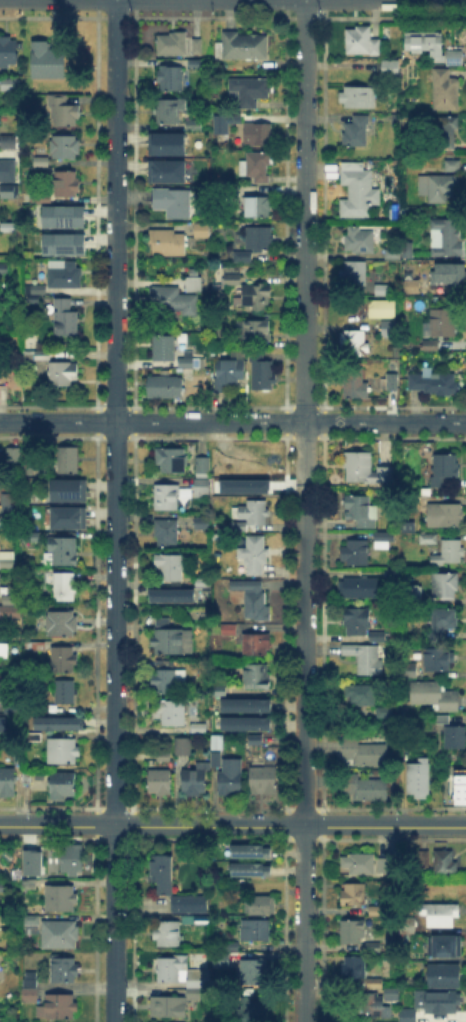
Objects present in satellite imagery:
building: (362, 41)
building: (430, 44)
building: (172, 45)
building: (244, 47)
building: (198, 48)
building: (8, 51)
building: (455, 60)
building: (48, 61)
building: (196, 63)
building: (390, 69)
building: (171, 80)
building: (9, 83)
building: (446, 91)
building: (249, 93)
building: (358, 98)
building: (64, 112)
building: (168, 113)
building: (218, 123)
building: (194, 126)
building: (255, 132)
building: (444, 132)
building: (355, 133)
building: (8, 142)
building: (166, 142)
building: (63, 147)
building: (41, 162)
building: (449, 164)
building: (257, 167)
building: (7, 170)
building: (164, 170)
building: (66, 184)
building: (441, 188)
building: (7, 191)
building: (358, 192)
building: (231, 193)
building: (174, 203)
building: (259, 208)
building: (61, 215)
building: (202, 230)
building: (448, 238)
building: (360, 241)
building: (61, 243)
building: (168, 243)
building: (255, 244)
building: (391, 254)
building: (4, 270)
building: (65, 274)
building: (353, 274)
building: (234, 277)
building: (449, 277)
building: (412, 287)
building: (34, 288)
building: (383, 291)
building: (257, 294)
building: (178, 297)
building: (33, 298)
building: (66, 320)
building: (386, 320)
building: (443, 325)
building: (255, 330)
building: (353, 343)
building: (431, 347)
building: (164, 349)
building: (43, 357)
building: (189, 364)
building: (260, 372)
building: (61, 373)
building: (230, 373)
building: (3, 379)
building: (390, 381)
building: (435, 383)
building: (165, 388)
building: (352, 389)
road: (232, 423)
building: (15, 455)
building: (69, 461)
building: (172, 461)
building: (203, 465)
building: (222, 467)
building: (445, 468)
building: (365, 469)
building: (259, 470)
building: (202, 485)
building: (70, 487)
building: (166, 496)
building: (358, 507)
road: (304, 510)
road: (114, 511)
building: (8, 512)
building: (445, 515)
building: (250, 516)
building: (69, 517)
building: (201, 523)
building: (167, 534)
building: (33, 536)
building: (381, 540)
building: (428, 540)
building: (449, 552)
building: (64, 553)
building: (354, 554)
building: (7, 555)
building: (254, 555)
building: (0, 564)
building: (7, 564)
building: (170, 568)
building: (393, 574)
building: (202, 583)
building: (0, 586)
building: (445, 586)
building: (65, 587)
building: (359, 589)
building: (169, 594)
building: (251, 599)
building: (10, 613)
building: (444, 621)
building: (163, 622)
building: (357, 622)
building: (62, 624)
building: (229, 630)
building: (377, 636)
building: (174, 643)
building: (256, 645)
building: (36, 647)
building: (3, 652)
building: (365, 657)
building: (437, 660)
building: (63, 661)
building: (411, 671)
building: (257, 677)
building: (167, 682)
building: (65, 693)
building: (363, 695)
building: (434, 697)
building: (247, 704)
building: (44, 708)
building: (12, 710)
building: (172, 713)
building: (384, 713)
building: (62, 722)
building: (247, 723)
building: (360, 725)
building: (3, 726)
building: (199, 729)
building: (453, 735)
building: (35, 738)
building: (256, 739)
building: (217, 743)
building: (183, 746)
building: (63, 753)
building: (365, 754)
building: (216, 758)
building: (420, 777)
building: (231, 778)
building: (196, 780)
building: (263, 780)
building: (8, 781)
building: (159, 783)
building: (458, 784)
building: (63, 785)
building: (364, 788)
road: (232, 827)
building: (252, 853)
building: (73, 858)
building: (357, 860)
building: (30, 861)
building: (425, 861)
building: (446, 863)
building: (384, 864)
building: (251, 871)
building: (162, 875)
building: (27, 882)
building: (2, 885)
building: (355, 895)
building: (61, 901)
building: (190, 903)
building: (262, 906)
building: (377, 912)
building: (442, 915)
building: (31, 924)
building: (410, 926)
building: (255, 931)
building: (351, 933)
building: (60, 934)
building: (167, 935)
building: (230, 947)
building: (445, 948)
building: (373, 949)
building: (221, 962)
building: (355, 968)
building: (64, 970)
building: (172, 970)
building: (253, 972)
building: (444, 976)
building: (199, 985)
building: (374, 986)
building: (32, 988)
building: (393, 995)
building: (442, 1004)
building: (373, 1005)
building: (60, 1008)
building: (166, 1008)
building: (253, 1010)
building: (0, 1017)
building: (408, 1017)

